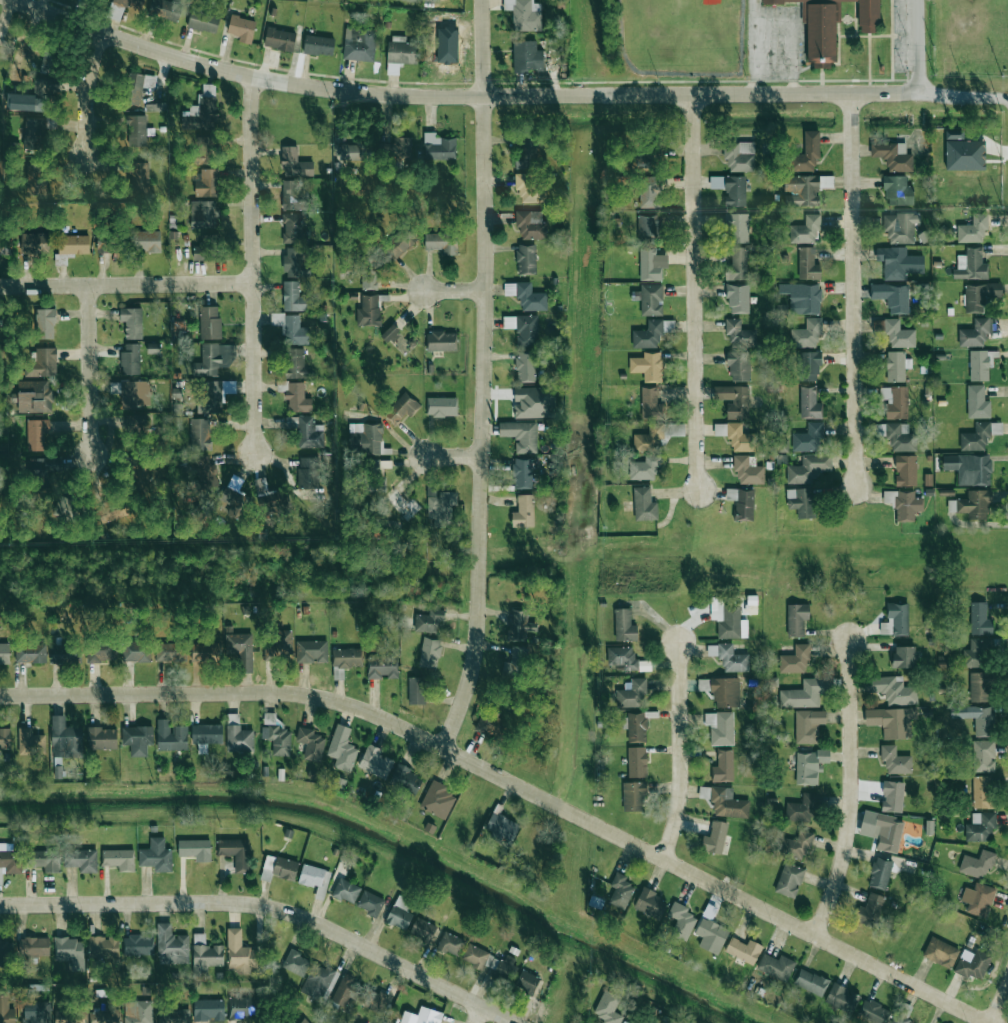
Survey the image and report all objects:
building: (153, 7)
road: (753, 11)
building: (524, 14)
building: (868, 16)
road: (774, 21)
building: (203, 22)
building: (241, 28)
building: (818, 31)
building: (280, 39)
building: (359, 44)
building: (318, 45)
road: (921, 47)
building: (400, 53)
building: (527, 56)
building: (49, 62)
building: (50, 86)
building: (137, 87)
road: (87, 92)
road: (503, 96)
building: (202, 112)
building: (136, 130)
building: (33, 133)
building: (399, 147)
building: (438, 147)
building: (203, 151)
building: (352, 152)
building: (963, 152)
building: (526, 153)
building: (806, 153)
building: (893, 155)
building: (740, 157)
building: (643, 162)
building: (294, 163)
building: (140, 177)
building: (35, 182)
building: (207, 183)
building: (528, 186)
building: (801, 190)
building: (897, 190)
building: (734, 191)
building: (649, 192)
building: (292, 195)
building: (204, 214)
building: (530, 224)
building: (648, 226)
building: (737, 227)
building: (900, 227)
building: (292, 228)
building: (973, 229)
building: (805, 230)
building: (147, 241)
building: (442, 242)
building: (35, 243)
building: (5, 245)
building: (106, 245)
building: (398, 245)
building: (71, 247)
building: (204, 247)
building: (526, 259)
building: (293, 262)
building: (738, 263)
building: (898, 263)
road: (252, 264)
building: (651, 264)
building: (808, 264)
building: (971, 265)
building: (369, 273)
road: (126, 285)
road: (852, 290)
road: (455, 291)
road: (694, 292)
building: (526, 296)
building: (979, 296)
building: (293, 297)
building: (892, 297)
building: (802, 298)
building: (651, 299)
building: (738, 299)
building: (368, 311)
building: (132, 322)
building: (209, 322)
building: (45, 323)
building: (291, 328)
building: (524, 330)
building: (390, 333)
building: (895, 333)
building: (976, 333)
building: (739, 334)
building: (807, 334)
building: (648, 335)
building: (441, 341)
building: (130, 359)
building: (213, 359)
building: (41, 362)
building: (294, 363)
building: (979, 365)
building: (647, 366)
building: (739, 366)
building: (808, 366)
building: (895, 366)
building: (525, 367)
road: (89, 370)
road: (484, 377)
building: (134, 394)
building: (34, 396)
building: (295, 396)
building: (210, 397)
building: (733, 400)
building: (533, 402)
building: (895, 402)
building: (977, 402)
building: (809, 403)
building: (650, 404)
building: (442, 406)
building: (400, 409)
building: (135, 424)
building: (306, 431)
building: (200, 434)
building: (37, 435)
building: (521, 435)
building: (737, 436)
building: (649, 437)
building: (900, 437)
building: (365, 438)
building: (808, 438)
road: (455, 457)
building: (38, 468)
building: (644, 468)
building: (808, 468)
building: (969, 468)
building: (905, 470)
building: (748, 471)
building: (308, 472)
building: (206, 473)
building: (523, 473)
building: (271, 498)
building: (233, 501)
building: (801, 502)
building: (742, 503)
building: (644, 504)
building: (903, 504)
building: (975, 504)
building: (66, 507)
building: (441, 509)
building: (523, 512)
building: (108, 513)
building: (728, 619)
building: (796, 619)
building: (980, 619)
building: (895, 620)
building: (428, 621)
building: (520, 625)
building: (624, 625)
building: (280, 646)
building: (240, 649)
building: (311, 651)
building: (100, 652)
building: (136, 652)
building: (171, 652)
building: (205, 652)
building: (4, 653)
building: (31, 653)
building: (430, 653)
building: (977, 653)
building: (65, 654)
building: (729, 657)
building: (903, 657)
building: (795, 659)
building: (515, 663)
building: (382, 667)
building: (979, 686)
building: (416, 690)
building: (892, 690)
building: (725, 692)
building: (630, 693)
building: (802, 694)
building: (891, 721)
building: (982, 721)
building: (489, 723)
building: (807, 725)
building: (634, 726)
building: (720, 727)
building: (171, 735)
building: (237, 735)
building: (5, 738)
building: (64, 738)
building: (102, 738)
building: (137, 738)
building: (277, 738)
building: (30, 742)
building: (310, 743)
building: (341, 748)
road: (679, 751)
building: (983, 755)
building: (894, 760)
building: (374, 761)
building: (637, 761)
building: (723, 766)
building: (807, 767)
building: (405, 780)
road: (513, 784)
road: (848, 789)
building: (982, 791)
building: (633, 796)
building: (892, 796)
building: (437, 800)
building: (727, 802)
building: (800, 808)
building: (979, 826)
building: (501, 827)
building: (887, 832)
building: (714, 837)
building: (796, 844)
building: (194, 849)
building: (235, 852)
building: (155, 855)
building: (9, 859)
building: (44, 859)
building: (81, 859)
building: (118, 859)
building: (977, 863)
building: (278, 868)
building: (879, 873)
building: (314, 878)
building: (789, 879)
building: (345, 890)
building: (619, 890)
building: (977, 898)
building: (370, 903)
building: (650, 903)
road: (268, 908)
building: (869, 910)
building: (399, 912)
building: (681, 920)
building: (422, 929)
building: (710, 931)
building: (450, 943)
building: (137, 944)
building: (171, 944)
building: (33, 946)
building: (103, 946)
building: (743, 949)
building: (69, 951)
building: (5, 952)
building: (940, 952)
building: (204, 954)
building: (239, 954)
building: (474, 955)
building: (295, 962)
building: (972, 963)
building: (503, 966)
building: (775, 966)
building: (317, 981)
building: (526, 981)
building: (810, 982)
building: (344, 990)
building: (842, 998)
building: (373, 999)
road: (999, 1006)
building: (241, 1007)
building: (207, 1008)
building: (607, 1008)
building: (6, 1011)
building: (137, 1011)
building: (35, 1012)
building: (873, 1012)
building: (113, 1014)
building: (171, 1015)
road: (476, 1015)
building: (69, 1016)
building: (420, 1016)
building: (901, 1018)
building: (304, 1020)
building: (92, 1022)
building: (624, 1022)

